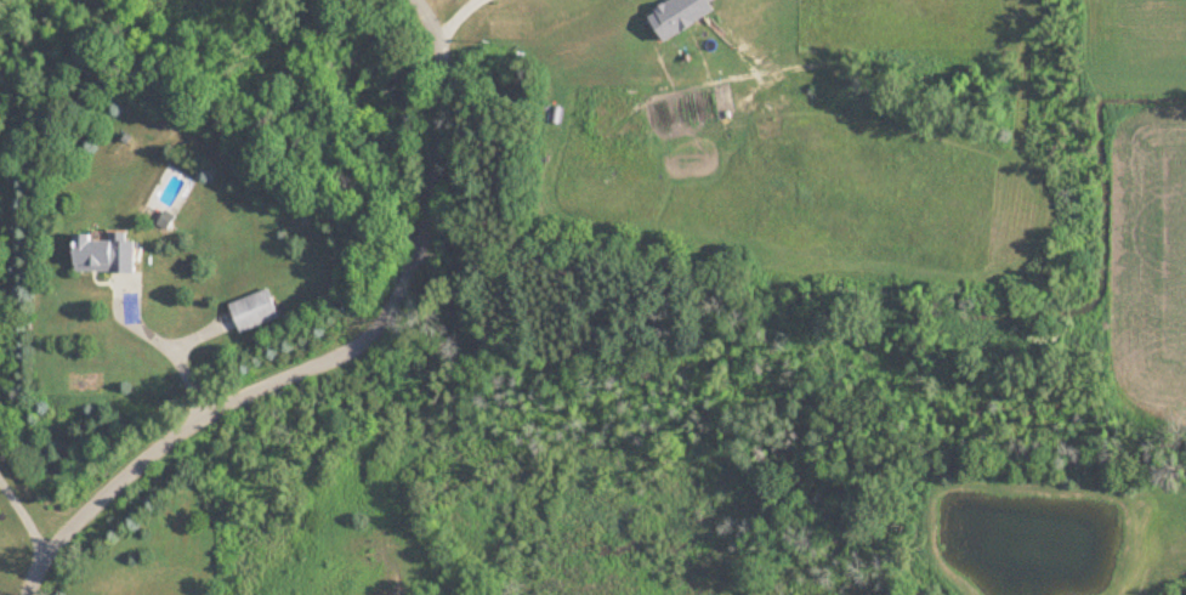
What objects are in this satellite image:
road: (452, 23)
building: (104, 251)
building: (256, 308)
road: (178, 352)
road: (331, 356)
road: (25, 515)

